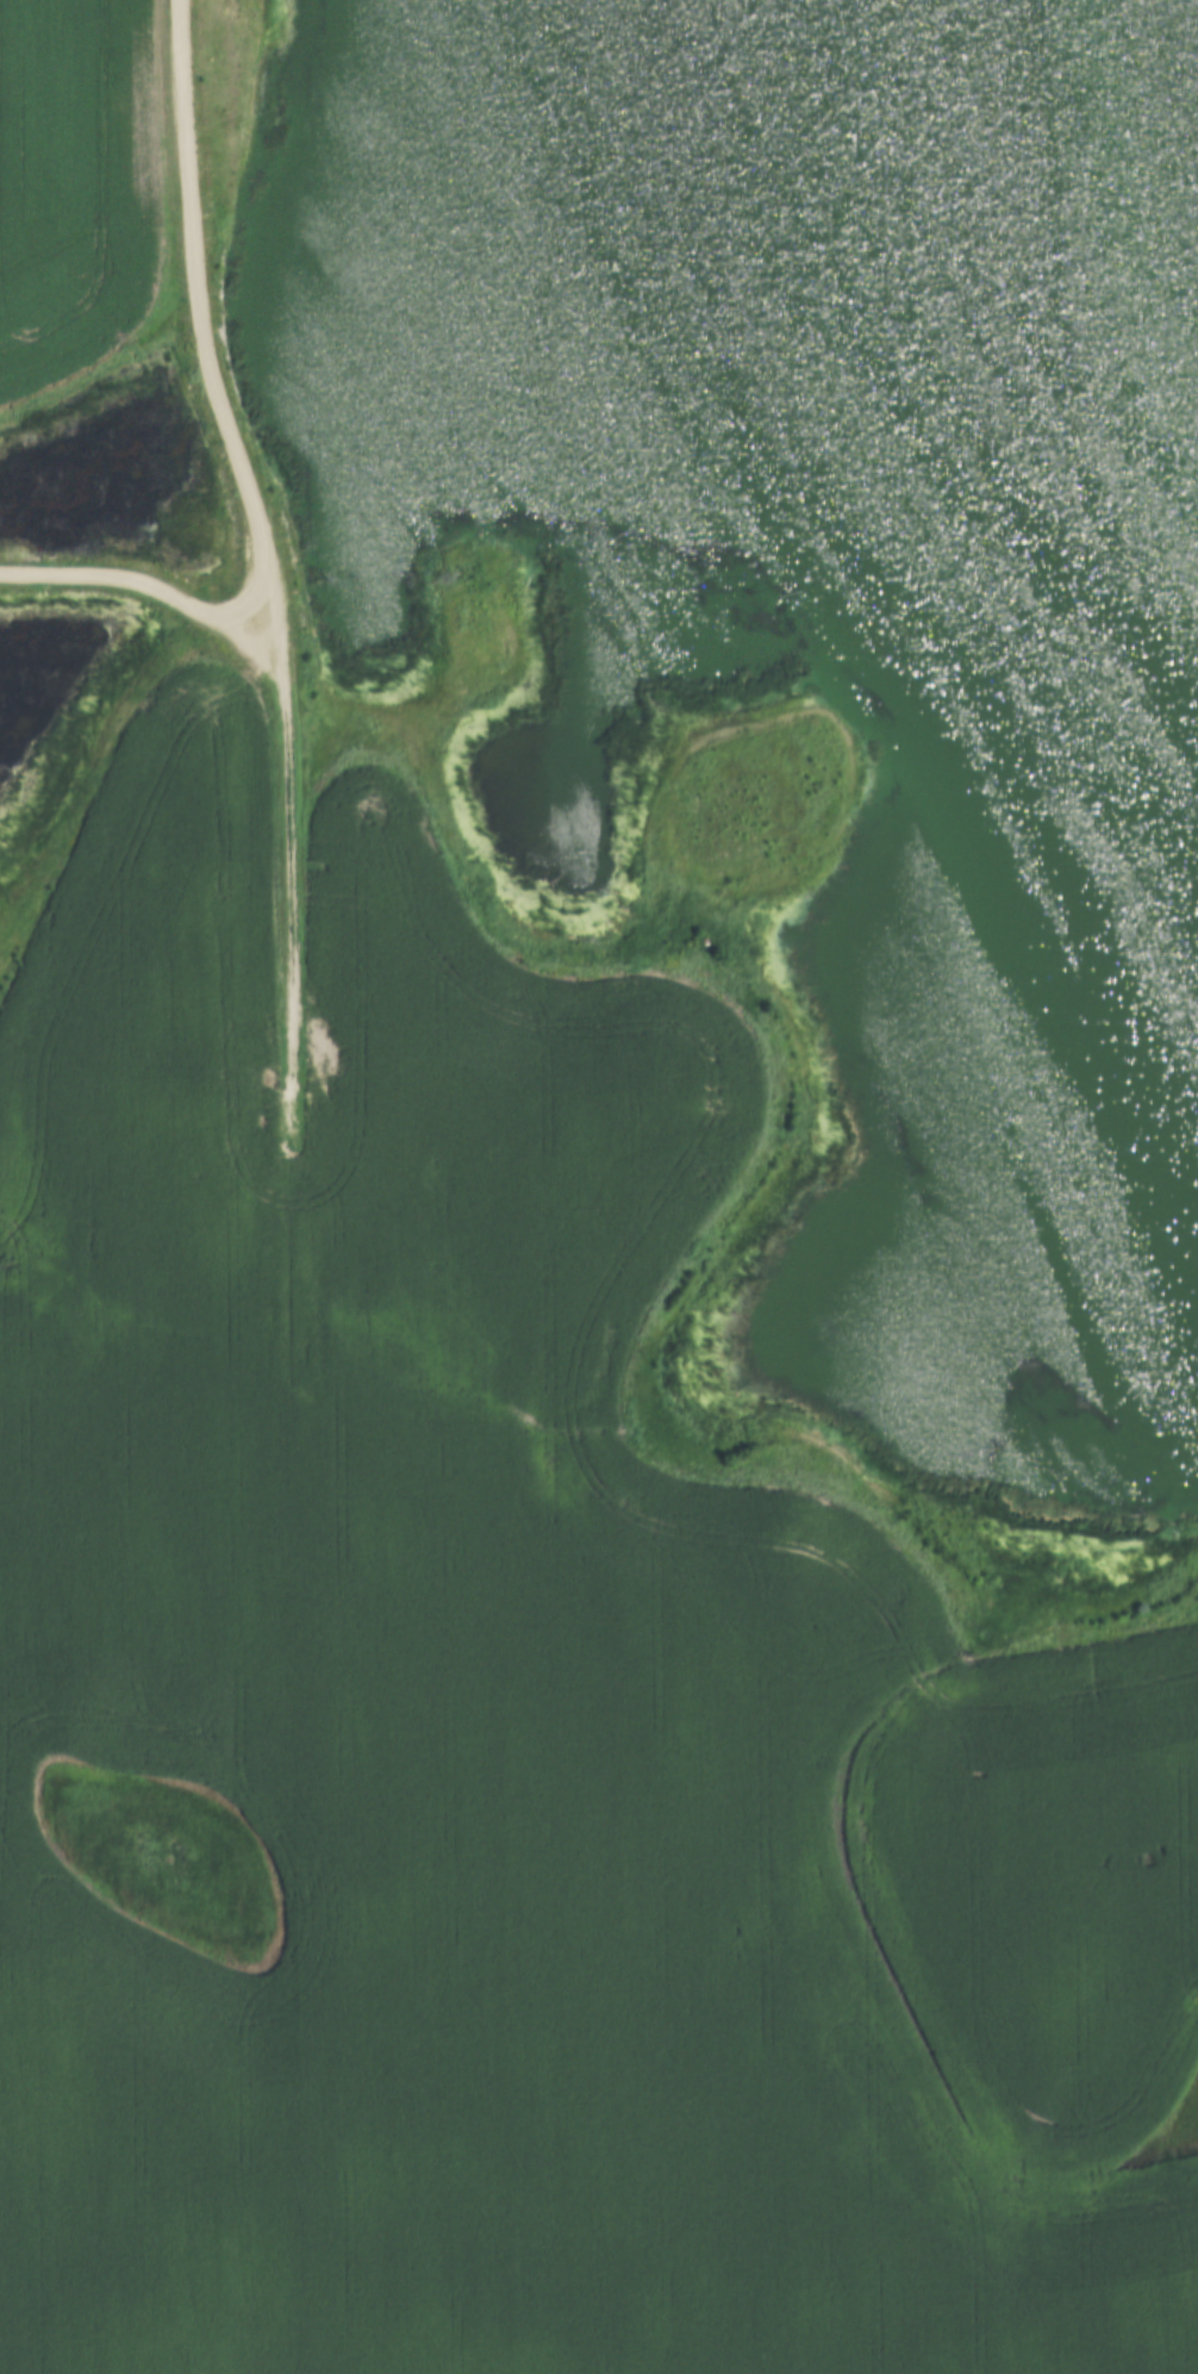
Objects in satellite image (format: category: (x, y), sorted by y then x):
road: (191, 300)
road: (138, 584)
road: (369, 1420)

